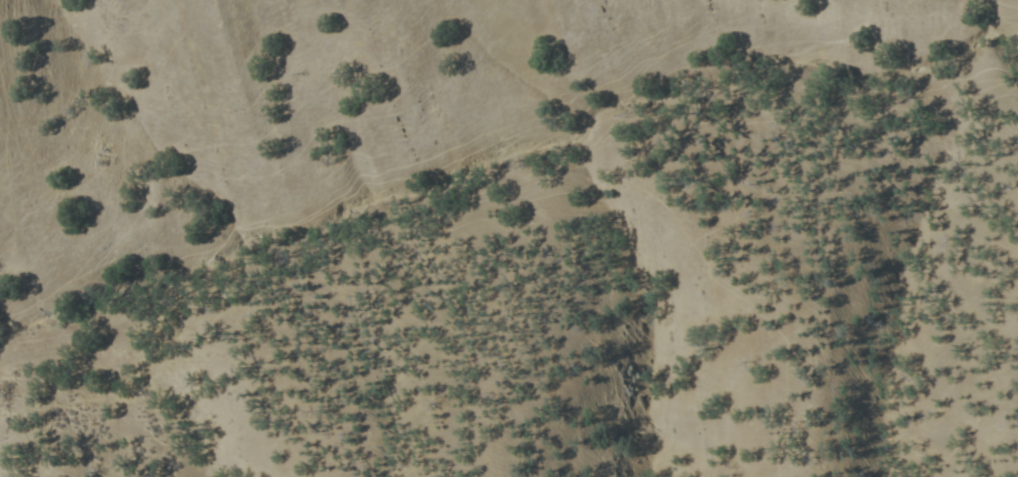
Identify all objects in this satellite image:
road: (738, 234)

